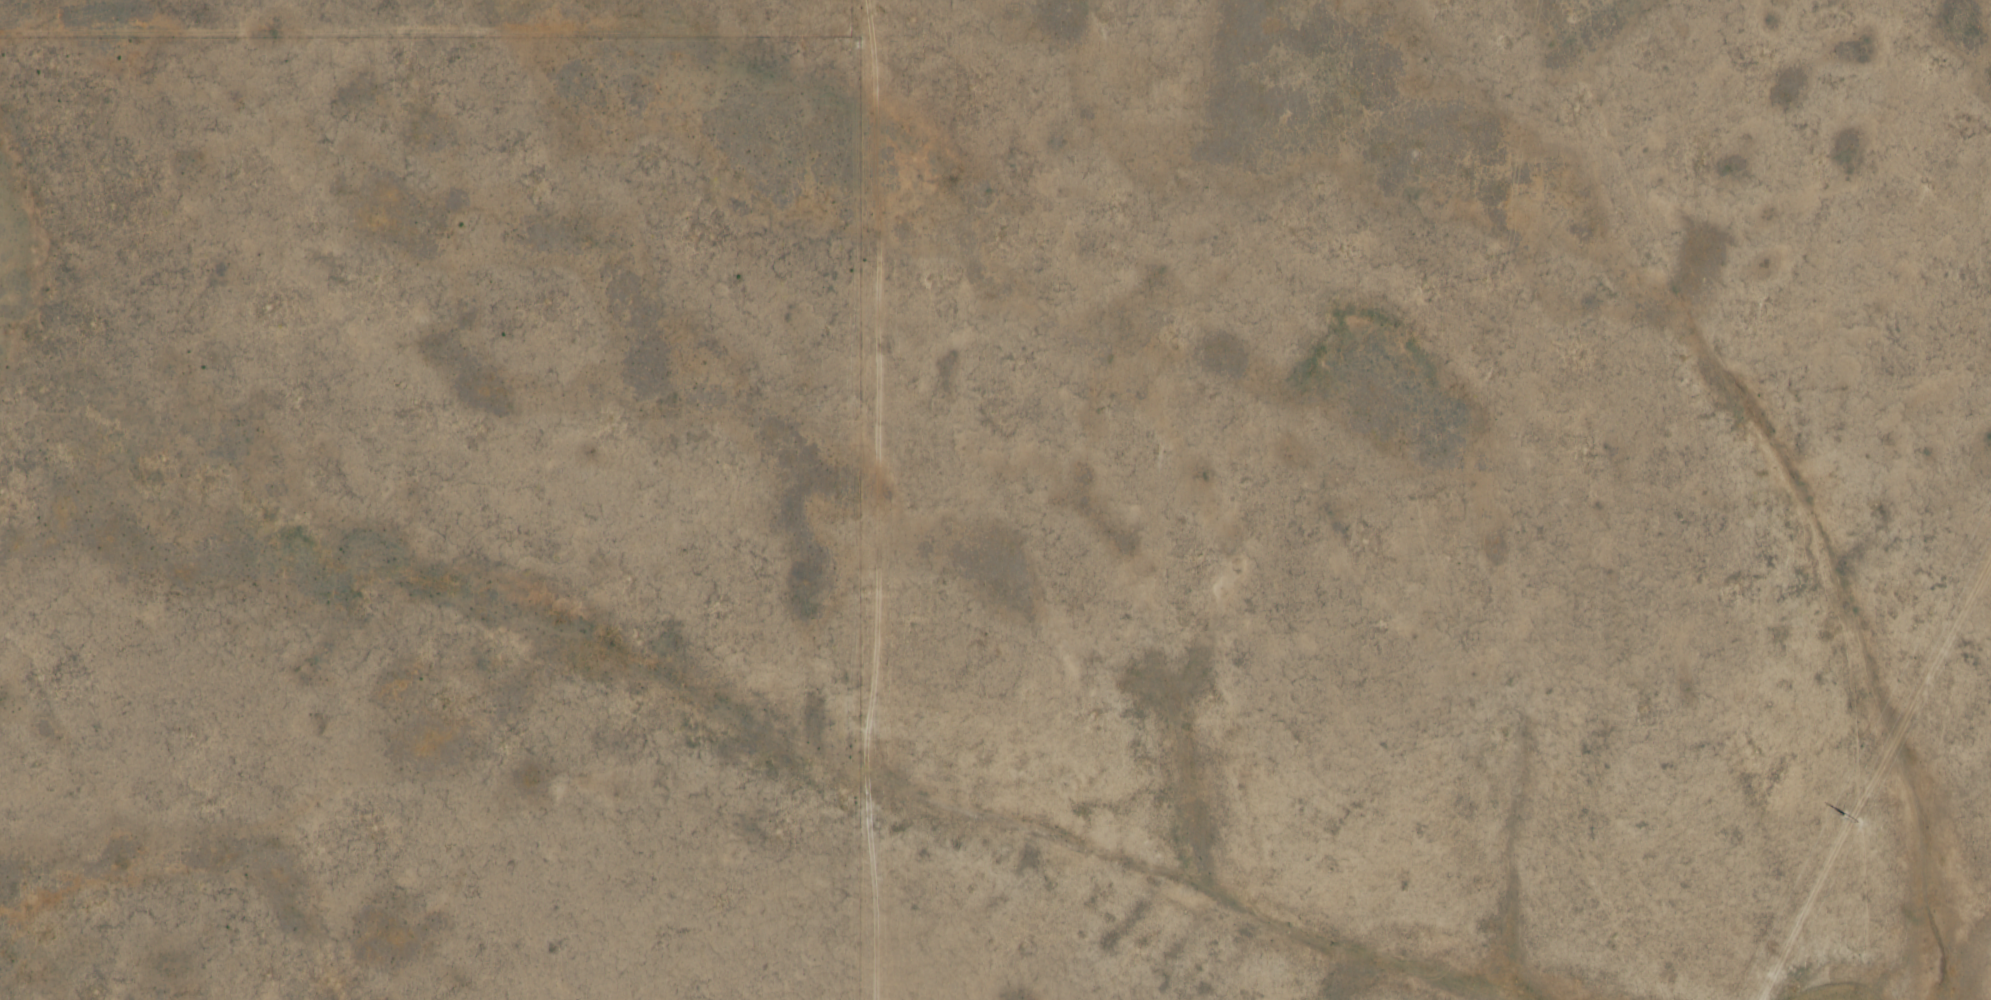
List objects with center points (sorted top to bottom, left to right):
power tower: (1851, 815)

